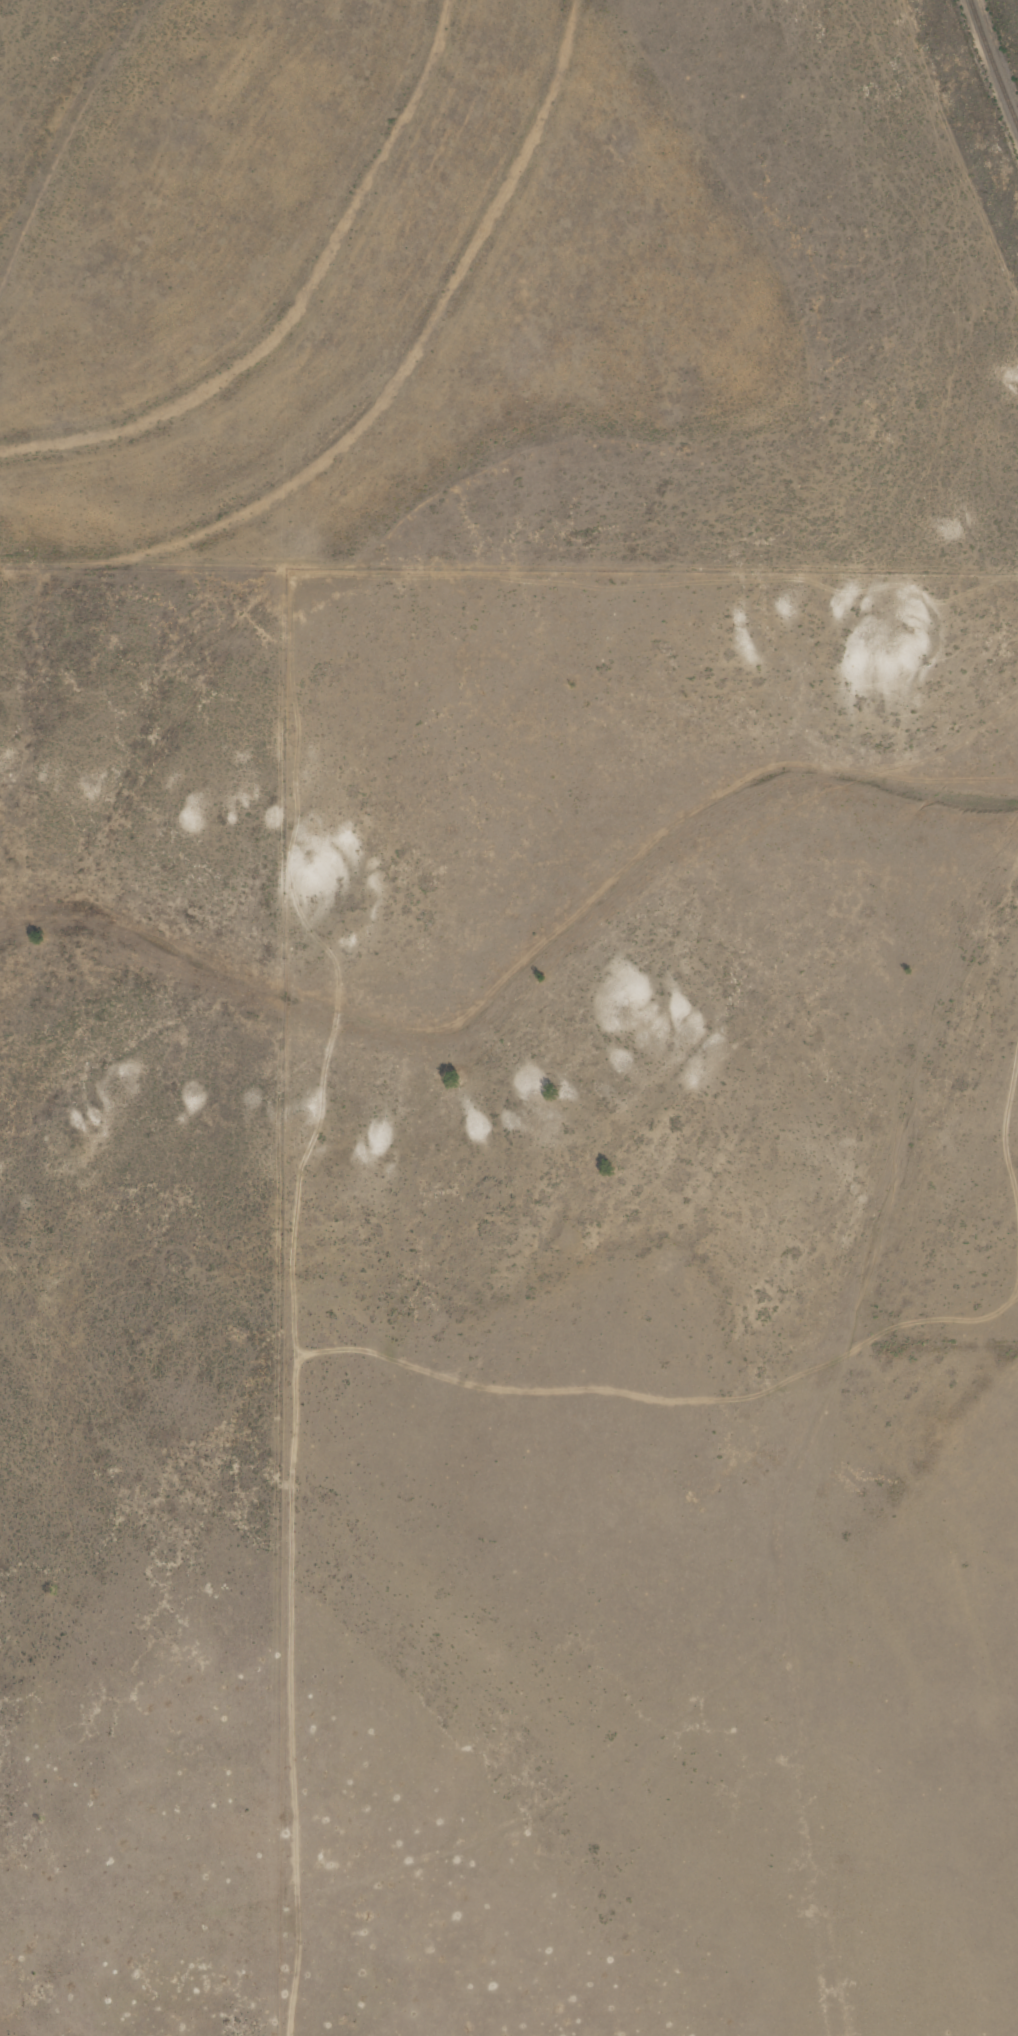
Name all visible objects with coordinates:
railway: (991, 65)

